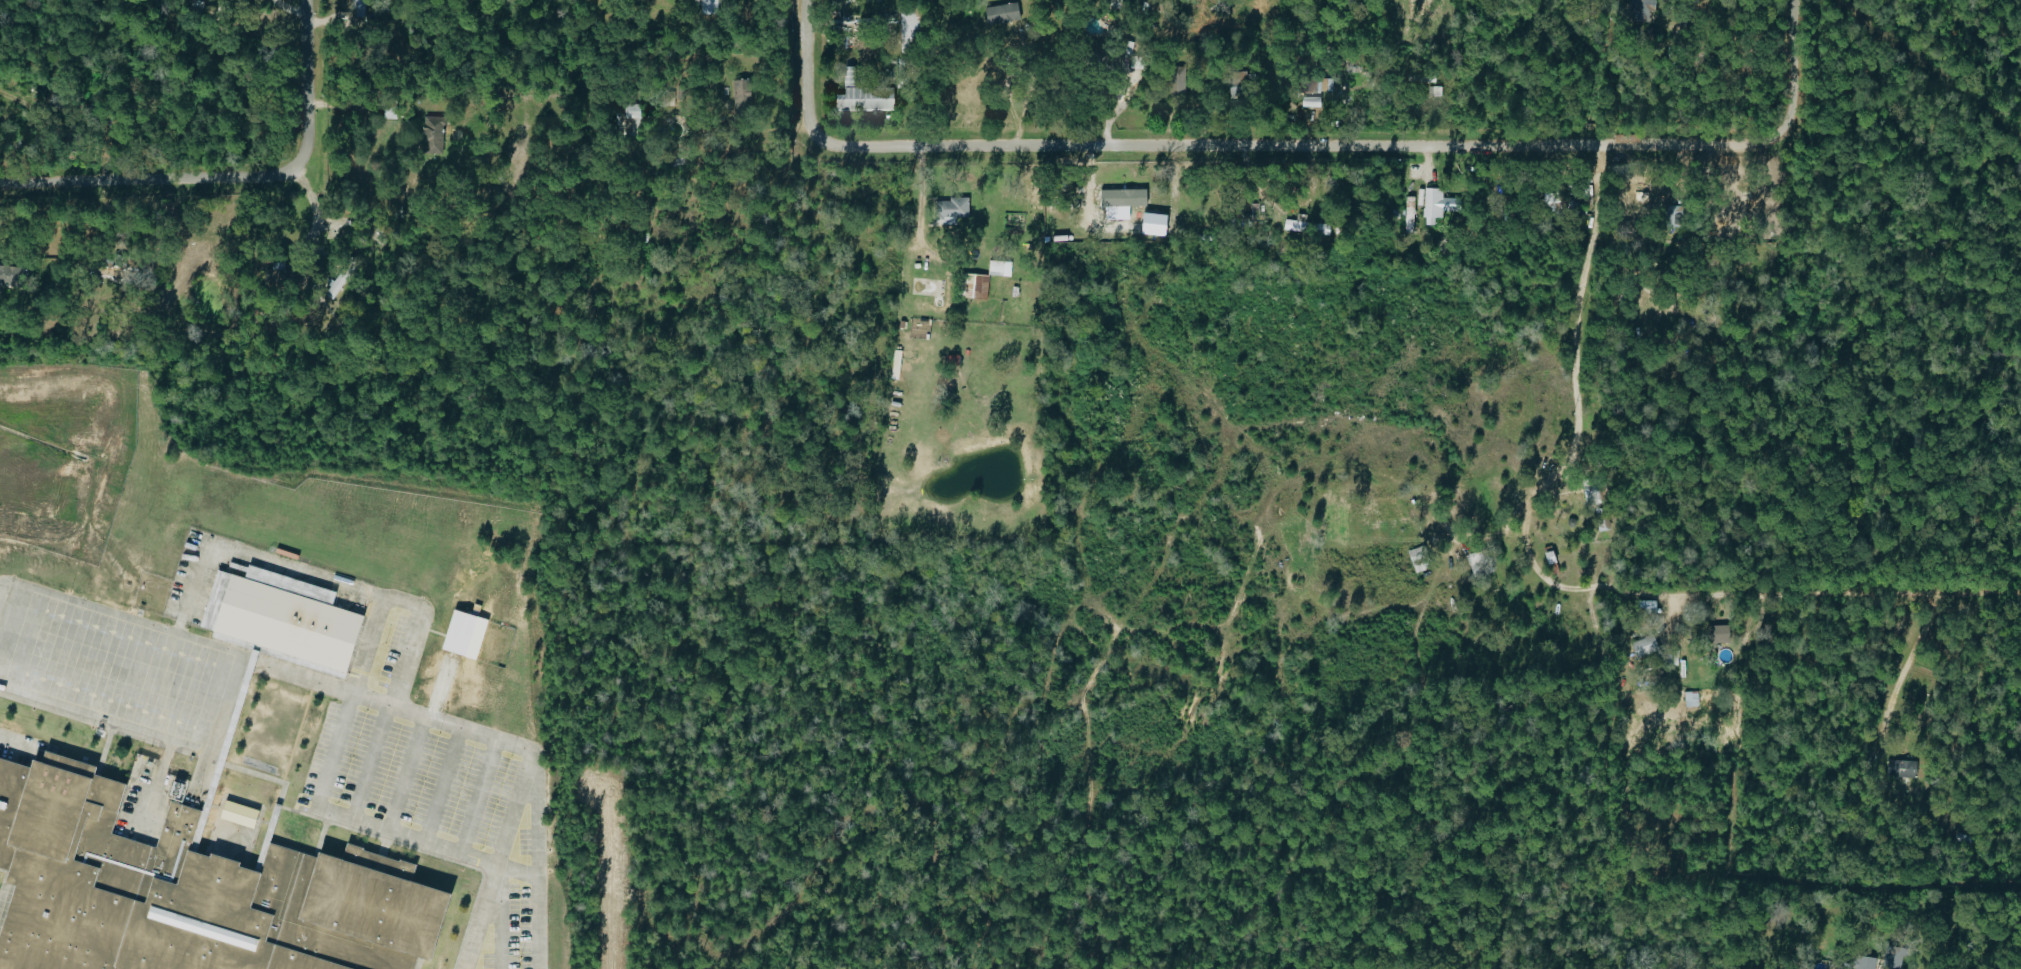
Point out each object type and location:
building: (709, 6)
building: (1641, 10)
road: (290, 13)
building: (1000, 13)
road: (1796, 70)
road: (810, 72)
building: (1430, 78)
building: (1311, 87)
road: (315, 88)
road: (130, 89)
road: (1028, 91)
building: (1434, 91)
building: (739, 93)
building: (862, 100)
building: (630, 111)
building: (430, 135)
road: (1304, 142)
road: (158, 177)
building: (1119, 202)
building: (1430, 204)
building: (948, 210)
building: (1409, 214)
building: (1672, 217)
building: (1150, 224)
building: (1304, 227)
building: (13, 274)
building: (335, 286)
building: (973, 286)
road: (1575, 395)
road: (246, 553)
building: (1478, 563)
building: (240, 569)
road: (1804, 593)
road: (399, 604)
building: (283, 622)
building: (456, 633)
building: (1707, 635)
building: (1642, 647)
road: (1896, 679)
road: (217, 688)
building: (1690, 699)
road: (221, 747)
road: (328, 752)
building: (1900, 769)
road: (278, 797)
parking lot: (440, 806)
building: (244, 815)
road: (498, 860)
road: (534, 860)
building: (184, 891)
building: (1841, 966)

